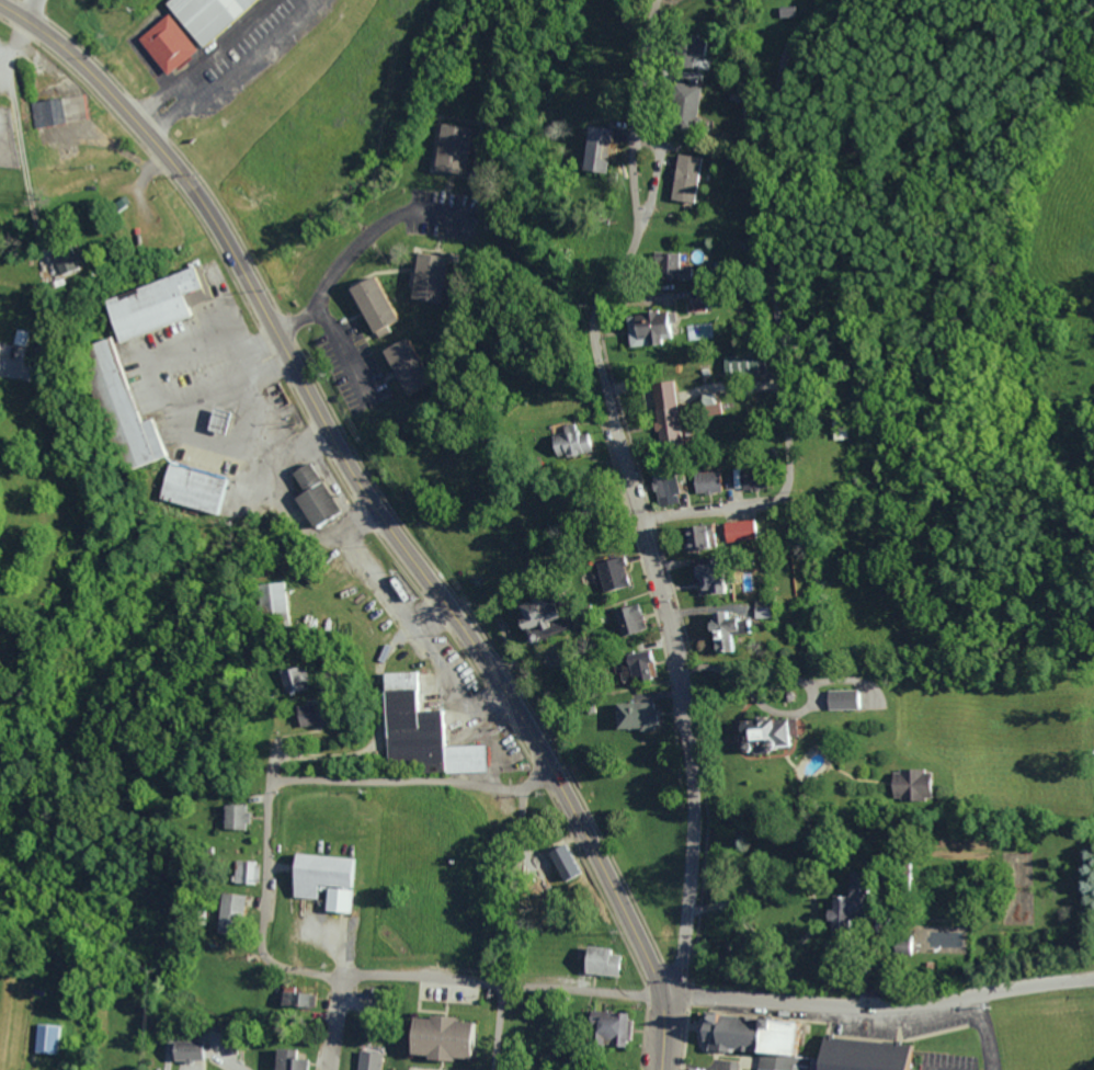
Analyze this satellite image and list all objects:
building: (718, 0)
road: (825, 2)
building: (210, 15)
building: (169, 43)
building: (77, 104)
building: (50, 113)
road: (16, 117)
power substation: (9, 138)
building: (453, 148)
building: (603, 149)
building: (693, 178)
building: (671, 259)
building: (434, 278)
road: (688, 296)
building: (156, 303)
building: (383, 304)
building: (699, 304)
road: (776, 314)
building: (656, 328)
building: (739, 364)
building: (414, 366)
building: (709, 402)
building: (119, 405)
building: (664, 409)
gas station: (223, 420)
building: (569, 441)
building: (705, 481)
building: (195, 488)
building: (664, 488)
road: (637, 493)
building: (316, 496)
road: (376, 510)
building: (736, 530)
building: (691, 536)
building: (609, 572)
building: (713, 581)
building: (273, 604)
building: (524, 614)
building: (626, 618)
building: (723, 629)
building: (634, 664)
building: (296, 680)
building: (843, 698)
building: (631, 714)
building: (319, 716)
building: (423, 729)
building: (767, 731)
road: (396, 779)
road: (536, 779)
building: (910, 784)
building: (233, 816)
road: (265, 858)
building: (565, 861)
building: (243, 872)
building: (322, 879)
road: (505, 885)
building: (227, 906)
building: (836, 906)
building: (899, 944)
building: (602, 961)
road: (298, 971)
road: (499, 983)
building: (293, 997)
road: (879, 1001)
road: (331, 1022)
road: (494, 1026)
building: (612, 1027)
road: (984, 1027)
building: (52, 1037)
building: (445, 1038)
building: (802, 1045)
building: (183, 1049)
building: (284, 1060)
building: (369, 1060)
road: (682, 1061)
building: (407, 1069)
building: (414, 1069)

